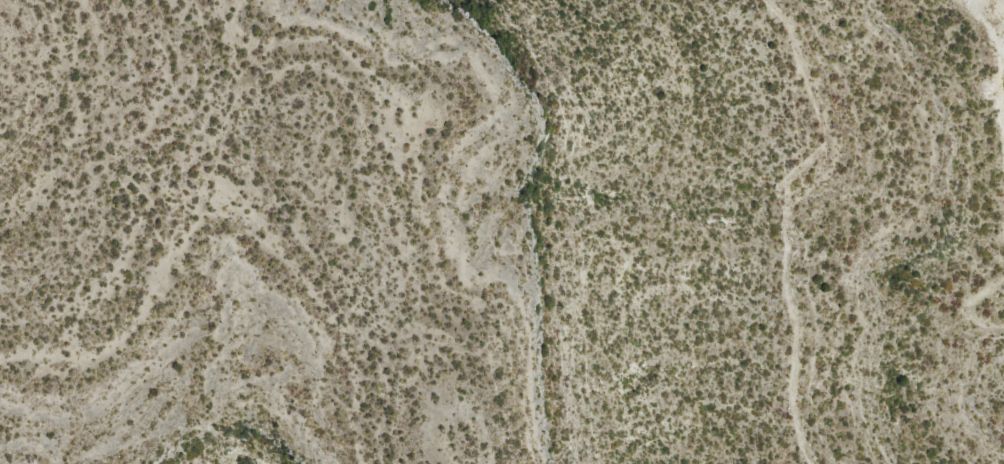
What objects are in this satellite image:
road: (998, 48)
road: (997, 233)

